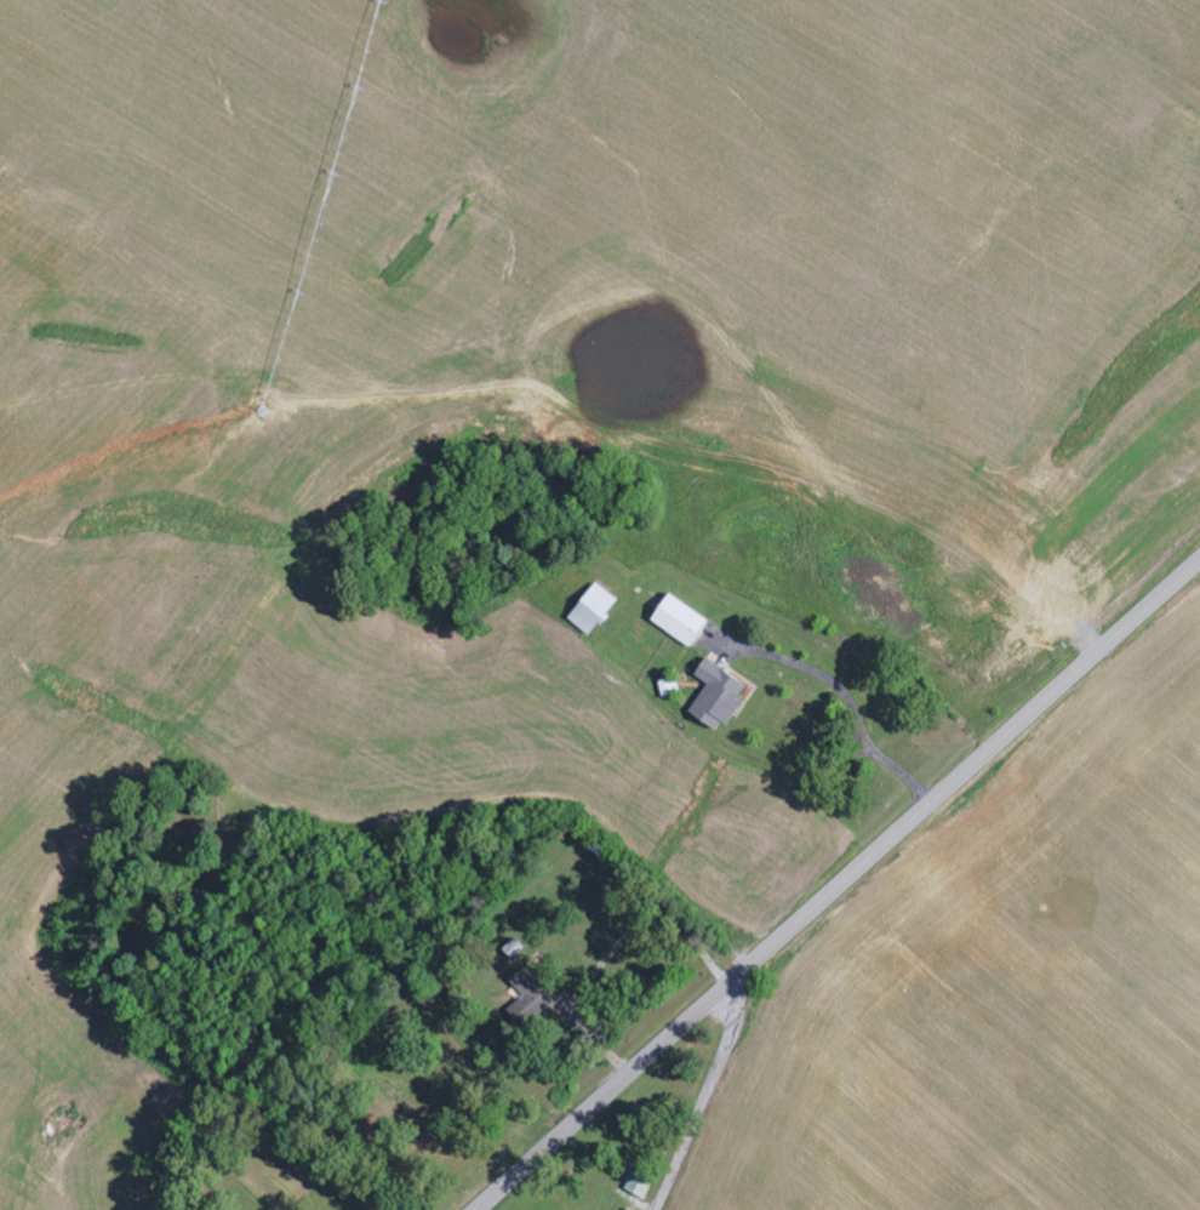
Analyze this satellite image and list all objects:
building: (596, 611)
building: (682, 622)
building: (720, 697)
park: (194, 815)
road: (838, 886)
building: (536, 992)
road: (704, 1098)
building: (639, 1187)

